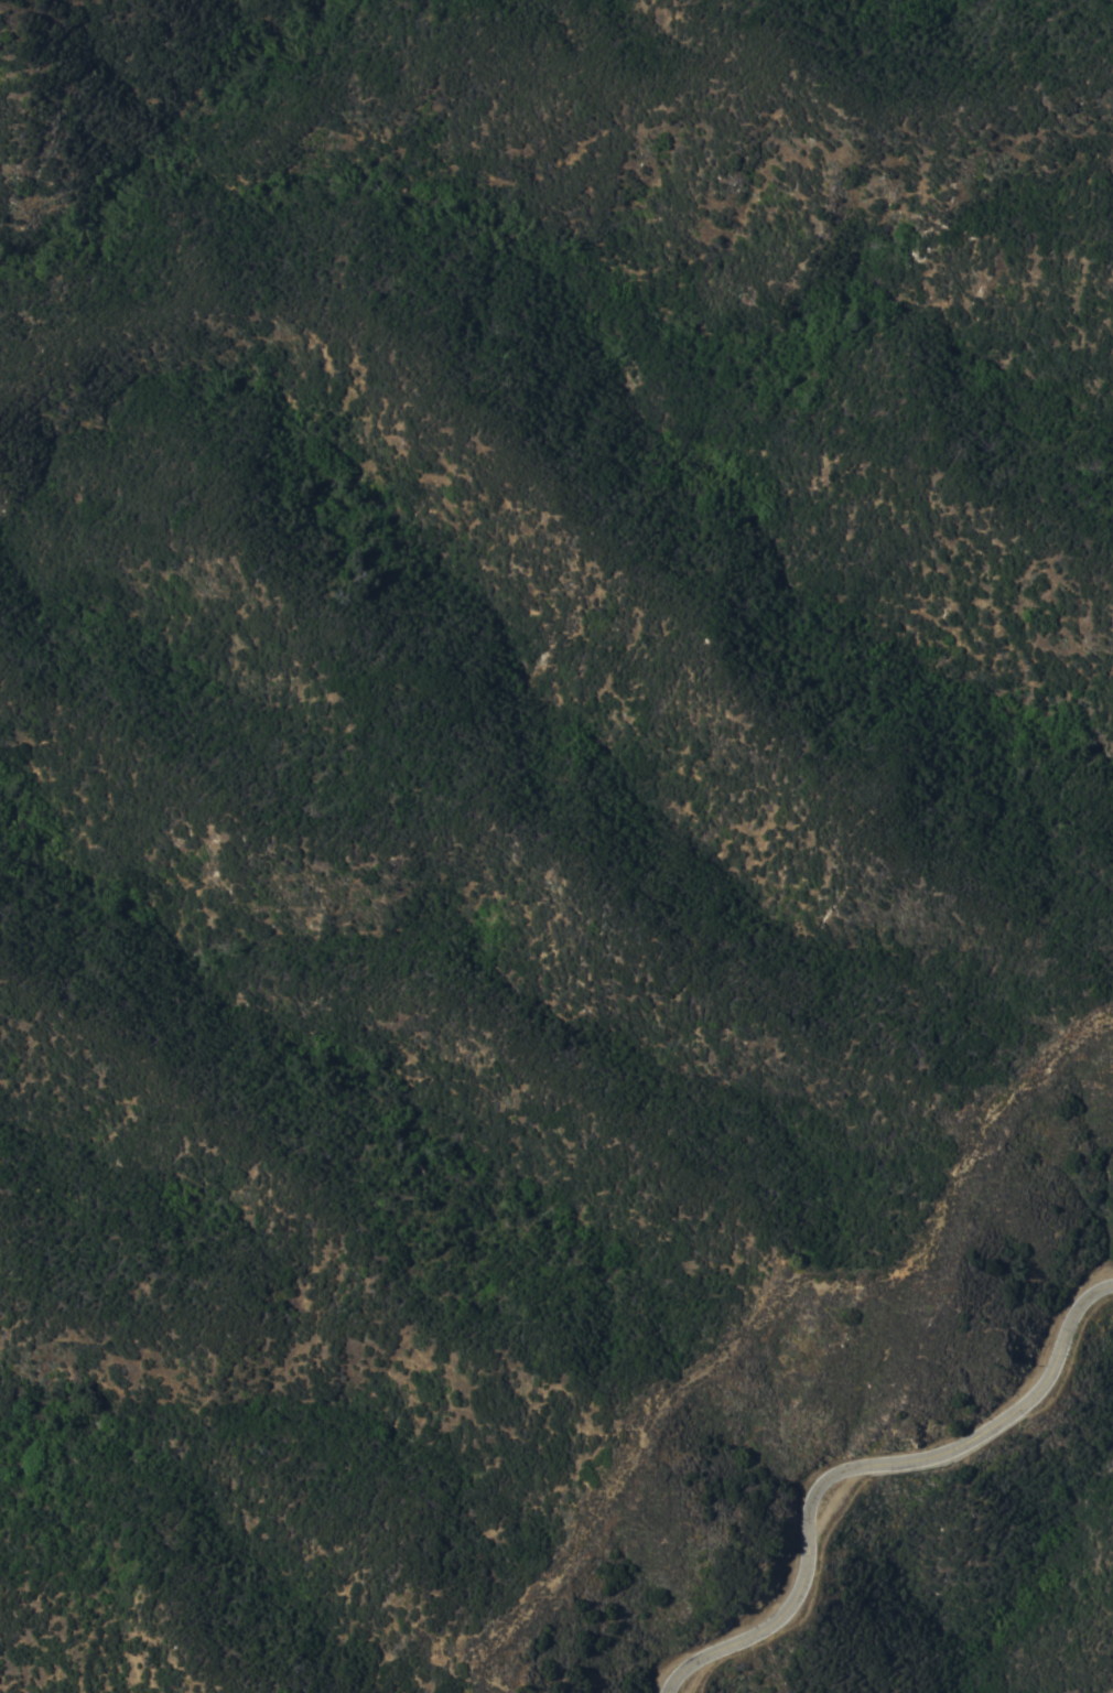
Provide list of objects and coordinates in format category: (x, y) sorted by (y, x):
road: (865, 1465)

